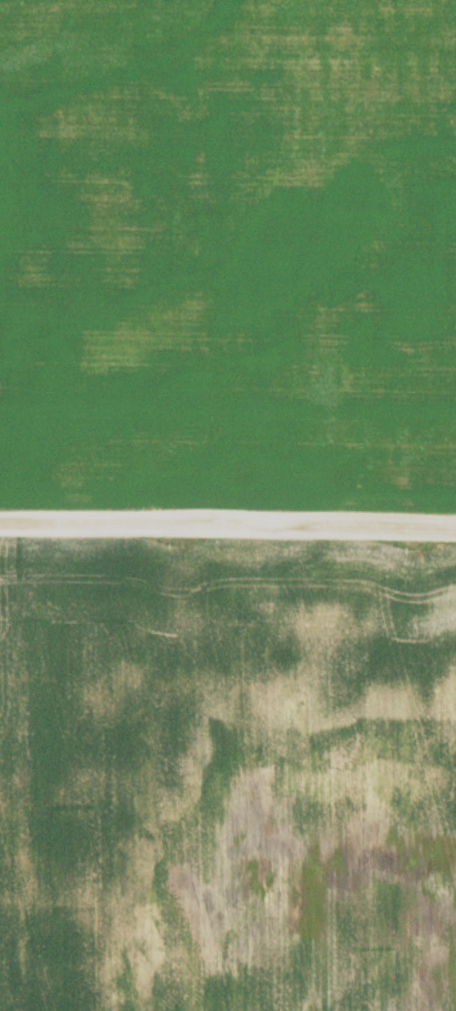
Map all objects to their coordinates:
road: (228, 532)

